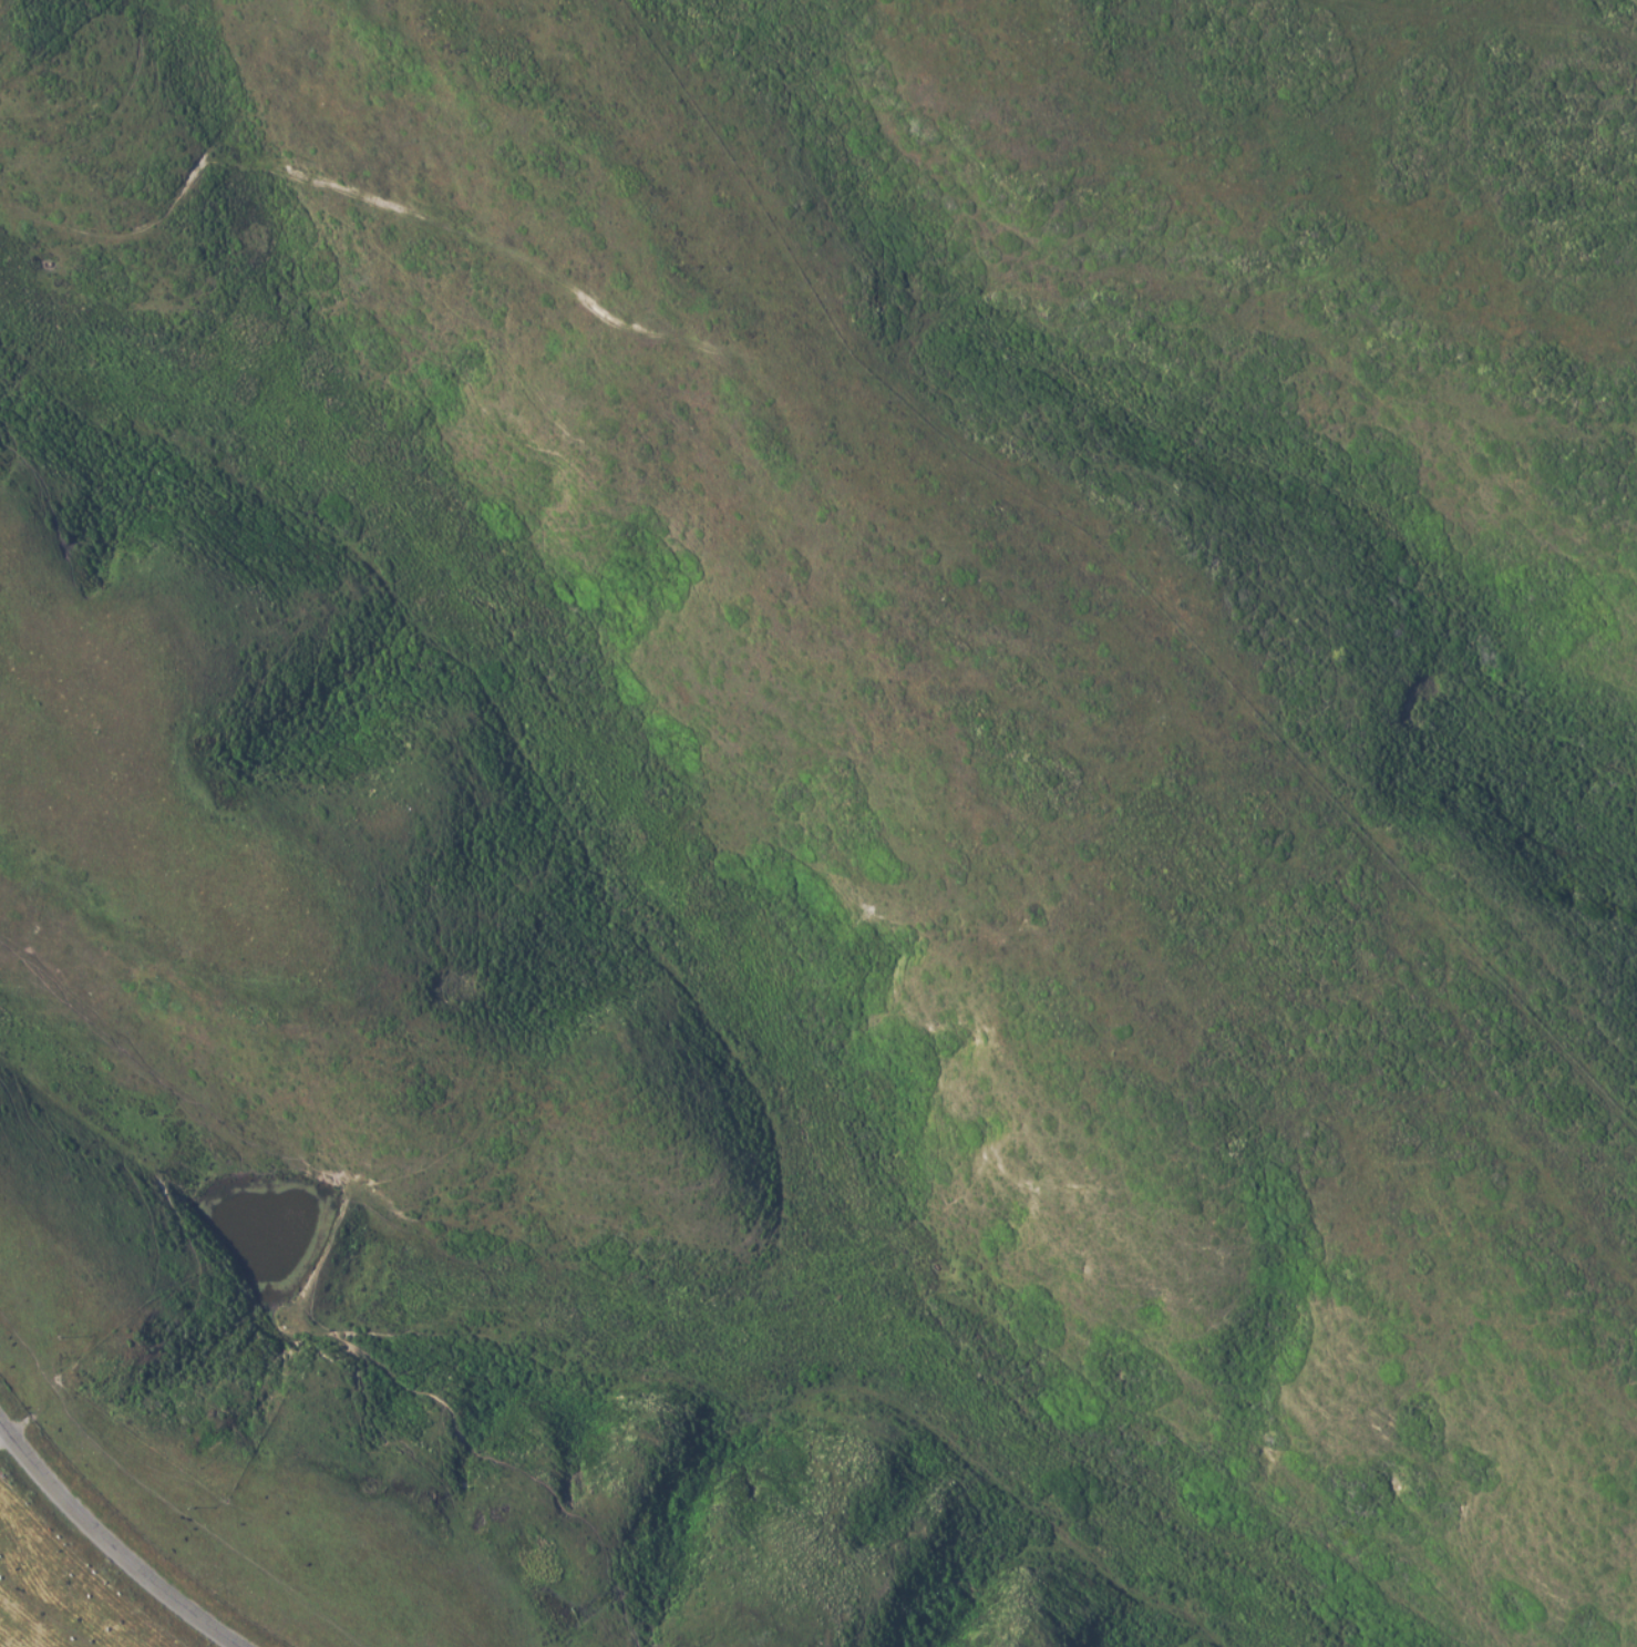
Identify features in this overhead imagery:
road: (110, 1544)

